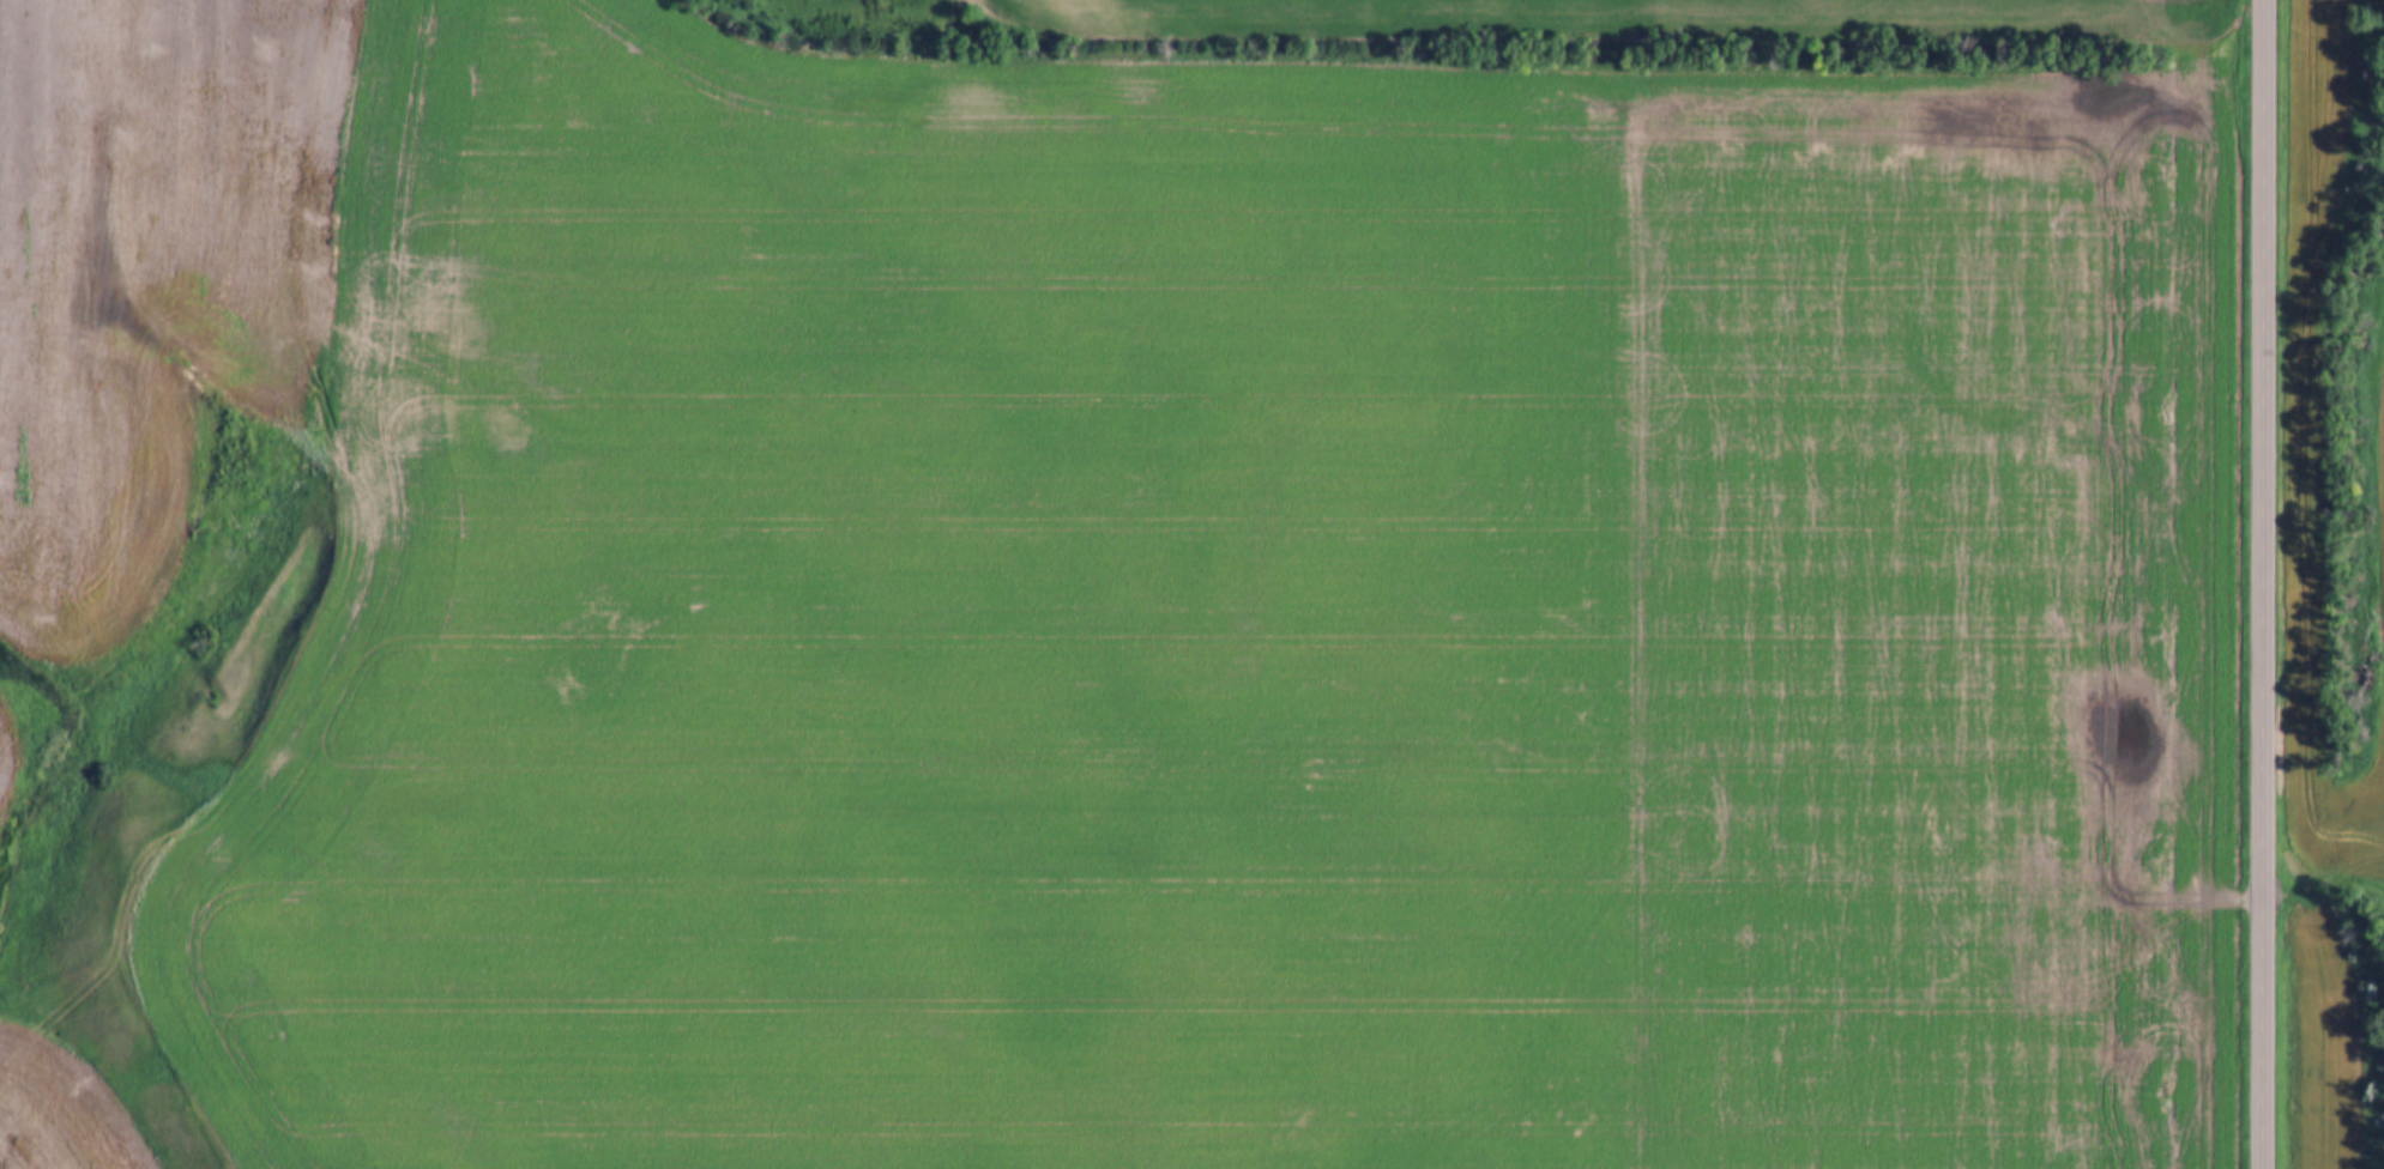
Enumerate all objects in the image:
road: (2262, 584)

